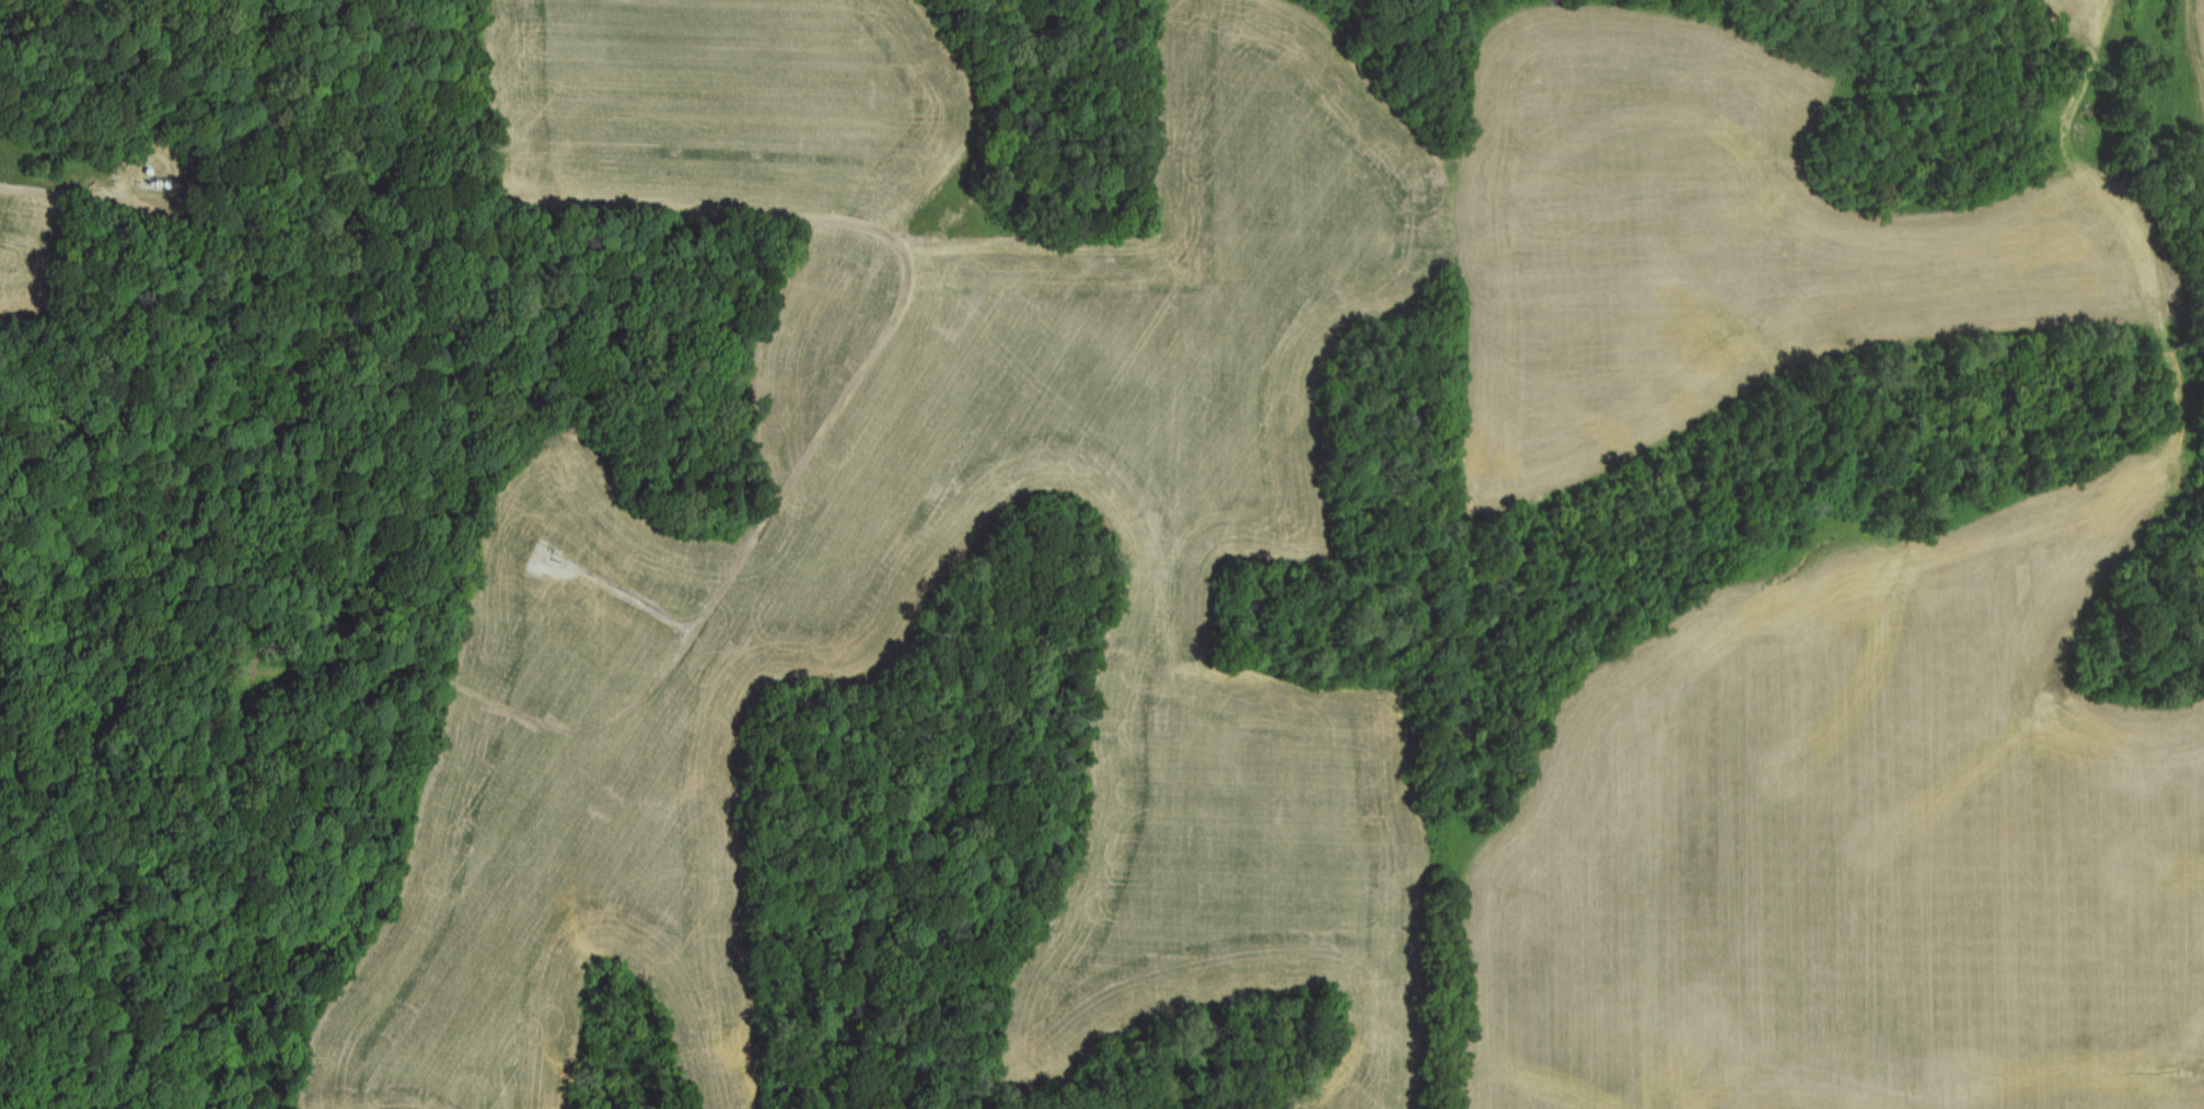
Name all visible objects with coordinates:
road: (812, 192)

